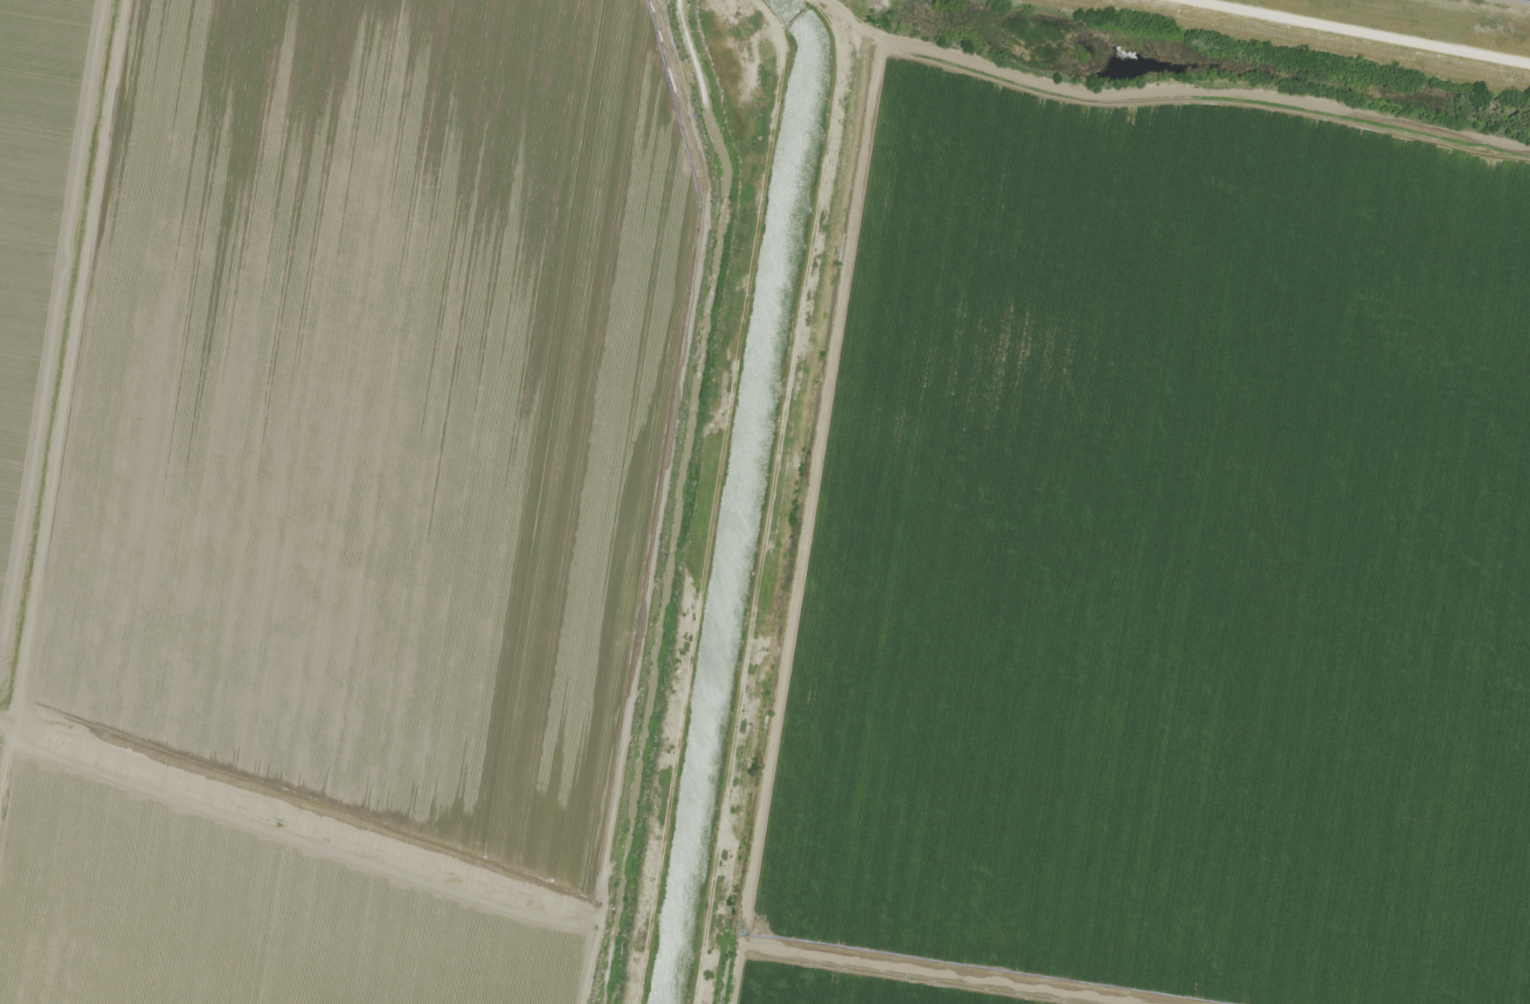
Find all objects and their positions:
road: (1383, 28)
road: (696, 498)

